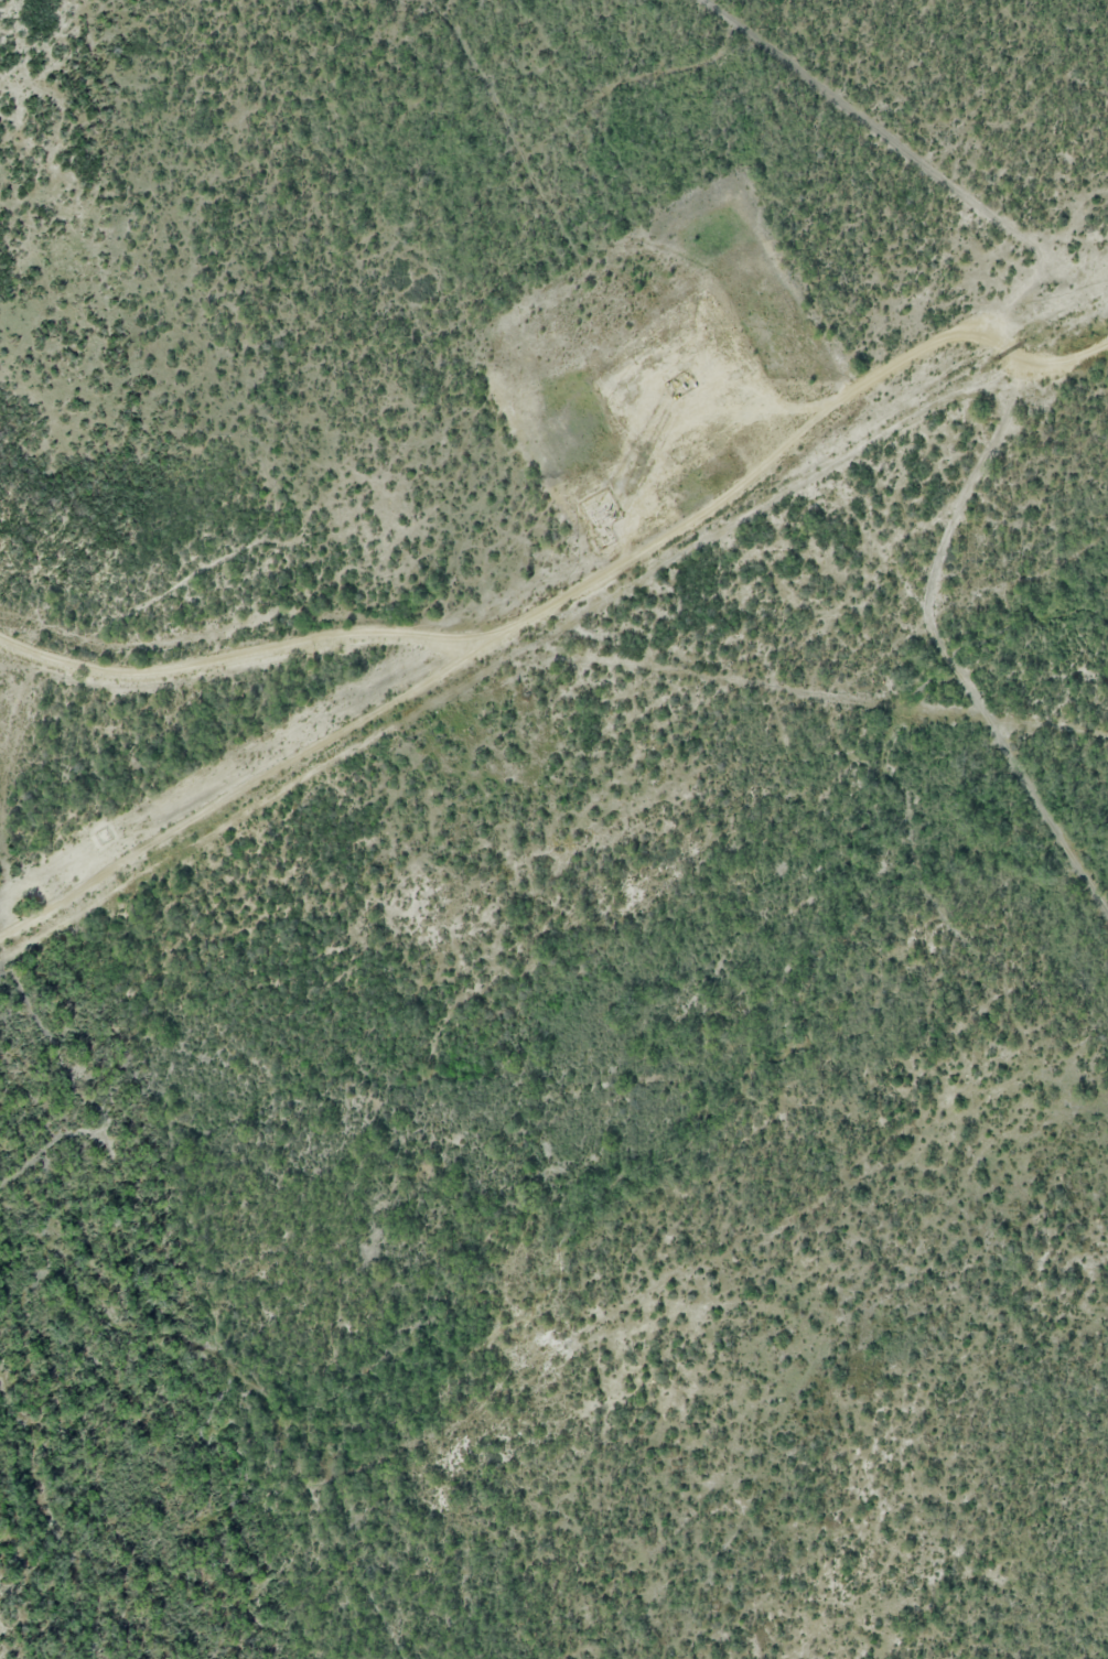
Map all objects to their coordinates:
road: (550, 632)

